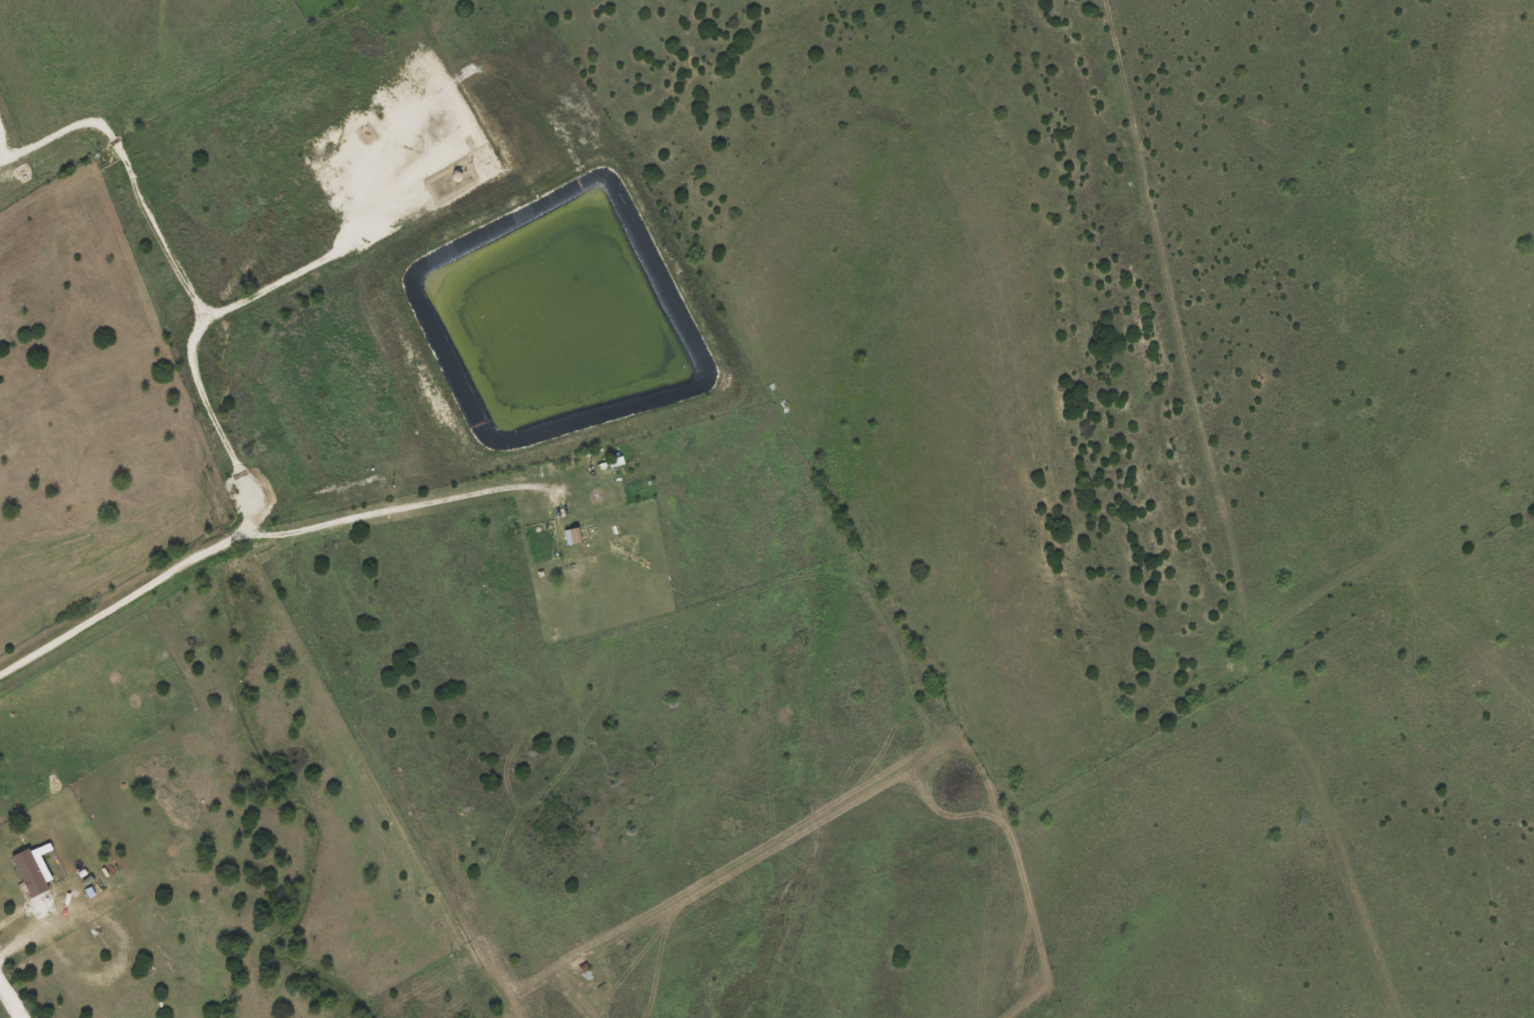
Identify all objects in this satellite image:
road: (1, 149)
road: (129, 169)
road: (243, 483)
road: (400, 502)
building: (574, 536)
building: (31, 874)
road: (11, 999)

